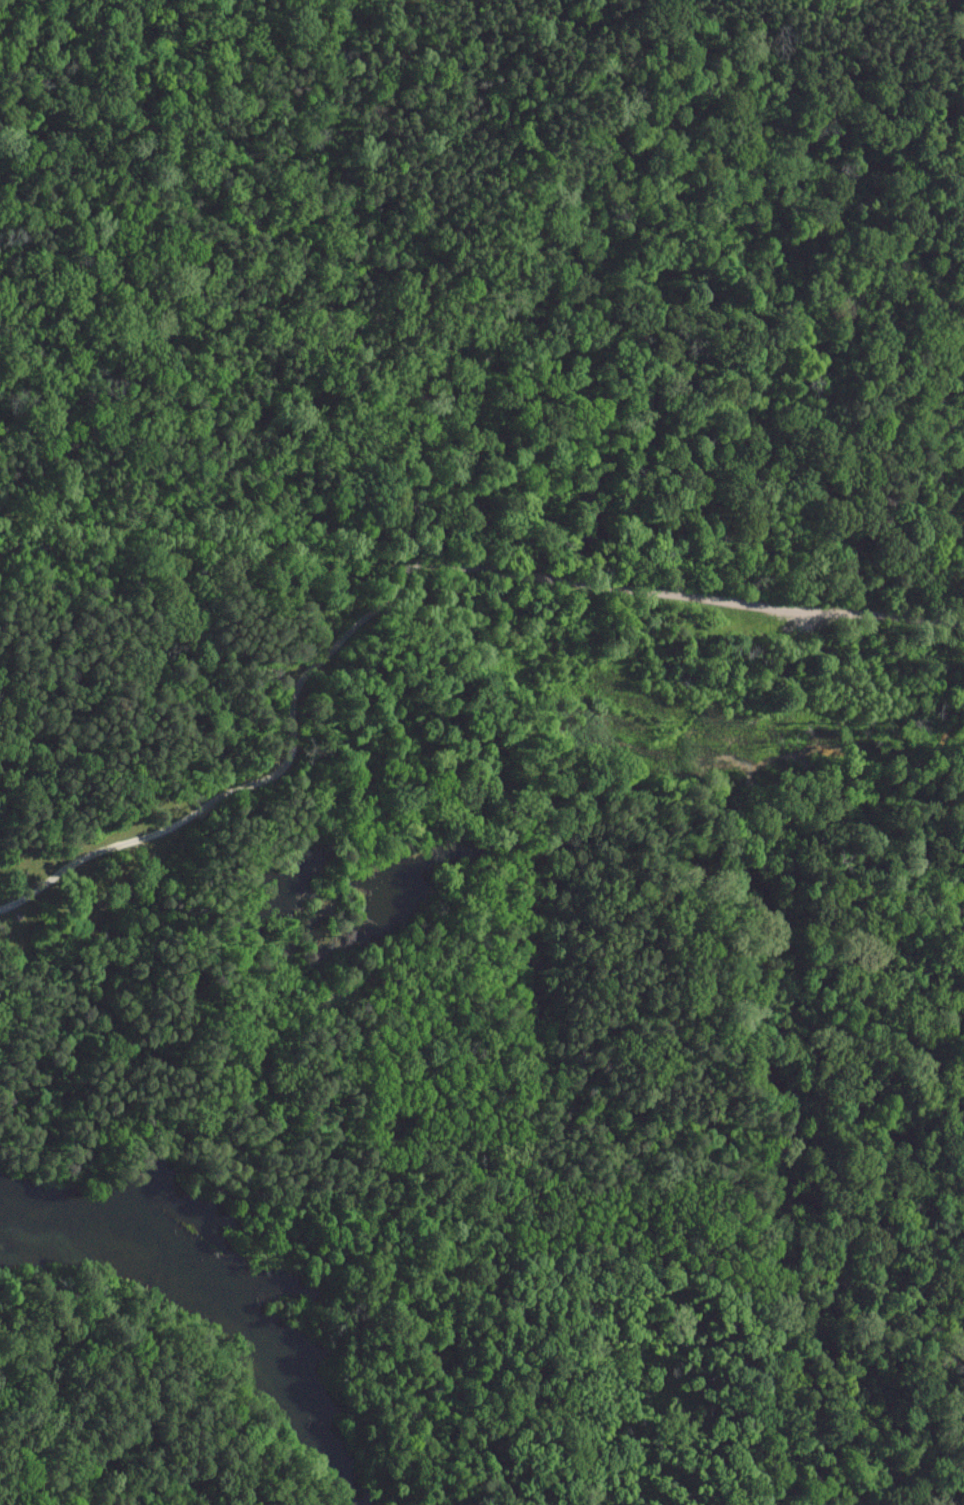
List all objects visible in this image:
road: (407, 572)

